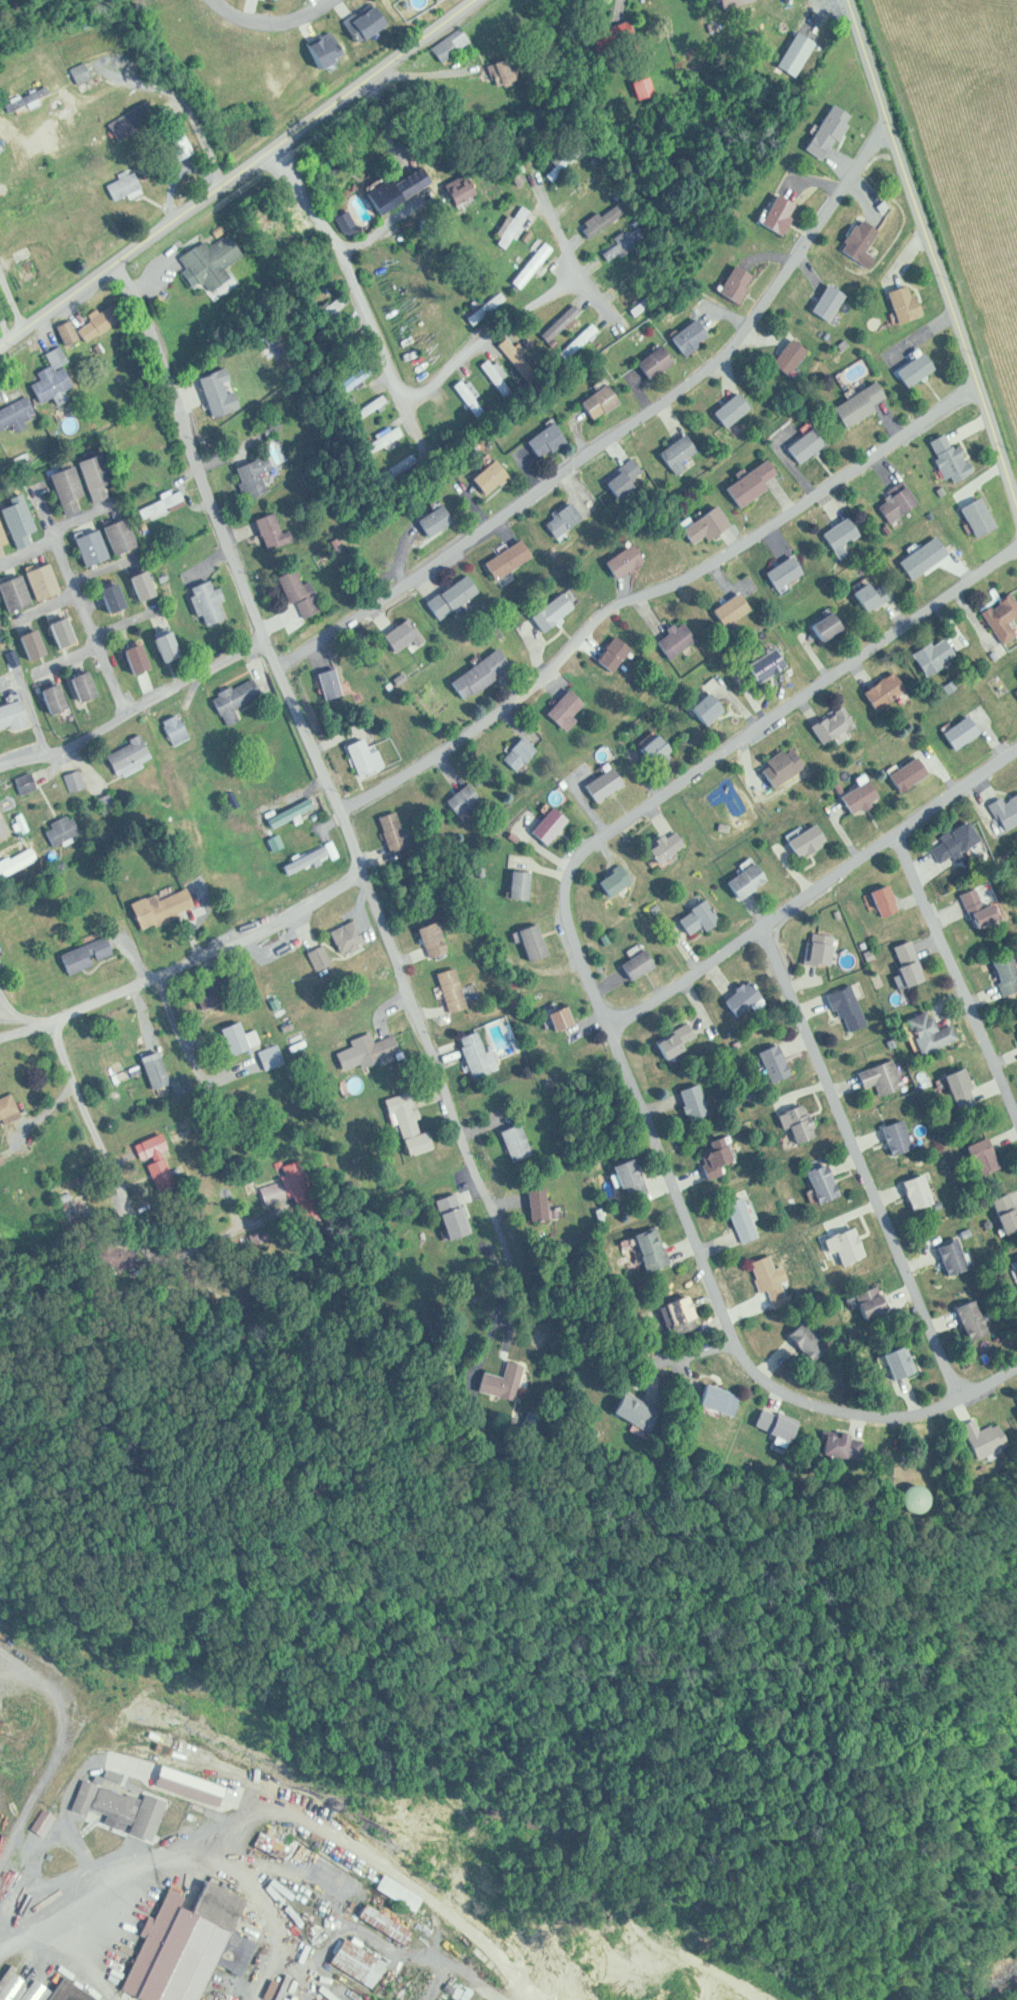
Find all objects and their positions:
road: (320, 2)
building: (730, 3)
road: (334, 4)
road: (244, 9)
road: (269, 19)
building: (358, 19)
road: (297, 25)
building: (444, 44)
building: (315, 46)
building: (789, 54)
building: (85, 72)
building: (645, 87)
building: (40, 94)
building: (820, 129)
building: (832, 130)
road: (239, 173)
building: (128, 186)
building: (467, 190)
building: (399, 195)
building: (770, 213)
building: (782, 213)
road: (398, 222)
building: (516, 226)
building: (857, 241)
road: (932, 248)
road: (570, 249)
road: (92, 258)
building: (207, 262)
building: (533, 264)
building: (636, 272)
building: (730, 283)
building: (822, 301)
building: (897, 302)
road: (11, 304)
building: (641, 305)
building: (107, 321)
building: (564, 326)
building: (684, 333)
building: (695, 336)
building: (579, 340)
building: (783, 356)
building: (649, 360)
road: (390, 362)
building: (909, 368)
building: (57, 380)
building: (215, 393)
building: (592, 402)
building: (850, 405)
building: (725, 410)
building: (19, 415)
road: (620, 429)
building: (388, 436)
building: (539, 439)
building: (799, 444)
building: (671, 453)
building: (942, 458)
building: (250, 475)
building: (483, 476)
building: (86, 480)
building: (743, 483)
building: (617, 485)
building: (892, 502)
building: (972, 516)
building: (557, 518)
building: (22, 521)
building: (430, 521)
building: (697, 525)
building: (268, 528)
building: (3, 531)
building: (124, 535)
building: (837, 536)
building: (96, 547)
building: (915, 557)
building: (617, 559)
building: (505, 561)
building: (629, 561)
building: (777, 573)
building: (285, 584)
building: (148, 585)
building: (33, 587)
road: (654, 591)
building: (448, 596)
building: (866, 596)
building: (117, 598)
building: (205, 602)
building: (548, 608)
building: (725, 608)
building: (997, 614)
building: (831, 626)
building: (818, 627)
building: (67, 632)
building: (399, 635)
building: (671, 639)
road: (179, 641)
building: (38, 645)
building: (174, 647)
road: (190, 647)
building: (611, 654)
building: (925, 656)
building: (939, 656)
building: (141, 658)
building: (761, 662)
building: (475, 673)
building: (1016, 680)
building: (325, 684)
building: (89, 687)
building: (879, 690)
building: (1014, 692)
building: (238, 698)
building: (59, 699)
road: (143, 703)
building: (560, 708)
building: (697, 708)
building: (713, 708)
building: (14, 715)
building: (827, 725)
building: (179, 729)
building: (954, 732)
building: (966, 732)
building: (650, 749)
road: (723, 752)
building: (516, 753)
building: (133, 755)
building: (358, 758)
road: (318, 761)
building: (775, 768)
building: (901, 771)
building: (913, 774)
building: (599, 782)
building: (77, 783)
building: (854, 795)
building: (455, 797)
building: (467, 800)
building: (295, 810)
building: (1001, 810)
building: (541, 826)
building: (64, 830)
building: (388, 834)
building: (399, 834)
building: (798, 839)
building: (947, 840)
building: (657, 843)
building: (669, 845)
building: (312, 859)
building: (18, 862)
building: (607, 879)
building: (751, 879)
building: (738, 880)
building: (514, 883)
road: (815, 889)
building: (889, 899)
building: (875, 900)
building: (167, 906)
building: (987, 907)
building: (970, 909)
building: (693, 913)
building: (351, 936)
building: (525, 937)
building: (437, 938)
building: (812, 949)
building: (90, 954)
road: (181, 961)
building: (633, 964)
building: (900, 964)
building: (915, 967)
road: (956, 974)
building: (1002, 977)
building: (455, 989)
building: (739, 999)
building: (212, 1000)
building: (841, 1004)
building: (553, 1016)
building: (564, 1017)
building: (922, 1034)
building: (241, 1037)
building: (1015, 1038)
building: (671, 1039)
building: (371, 1050)
building: (479, 1054)
building: (274, 1055)
building: (95, 1057)
building: (767, 1062)
building: (779, 1062)
building: (160, 1070)
road: (309, 1071)
building: (876, 1076)
building: (953, 1087)
building: (688, 1099)
building: (7, 1108)
road: (91, 1114)
building: (412, 1122)
building: (792, 1123)
building: (803, 1123)
building: (891, 1136)
building: (519, 1142)
building: (156, 1150)
building: (712, 1151)
building: (978, 1155)
building: (3, 1158)
road: (861, 1163)
building: (624, 1176)
building: (816, 1182)
building: (915, 1192)
building: (542, 1206)
building: (1000, 1214)
building: (457, 1215)
building: (736, 1218)
building: (839, 1245)
building: (645, 1248)
building: (945, 1255)
building: (1013, 1265)
building: (765, 1282)
building: (865, 1301)
building: (672, 1317)
building: (967, 1319)
road: (735, 1330)
building: (802, 1337)
building: (784, 1352)
building: (906, 1361)
building: (893, 1362)
building: (507, 1381)
building: (712, 1399)
building: (1014, 1406)
building: (630, 1411)
building: (768, 1424)
building: (977, 1438)
building: (998, 1439)
building: (852, 1443)
building: (832, 1446)
building: (935, 1495)
building: (906, 1498)
road: (60, 1753)
building: (110, 1803)
building: (277, 1846)
building: (403, 1893)
building: (388, 1925)
building: (188, 1947)
building: (361, 1963)
building: (75, 1991)
river: (1013, 1996)
building: (379, 1999)

